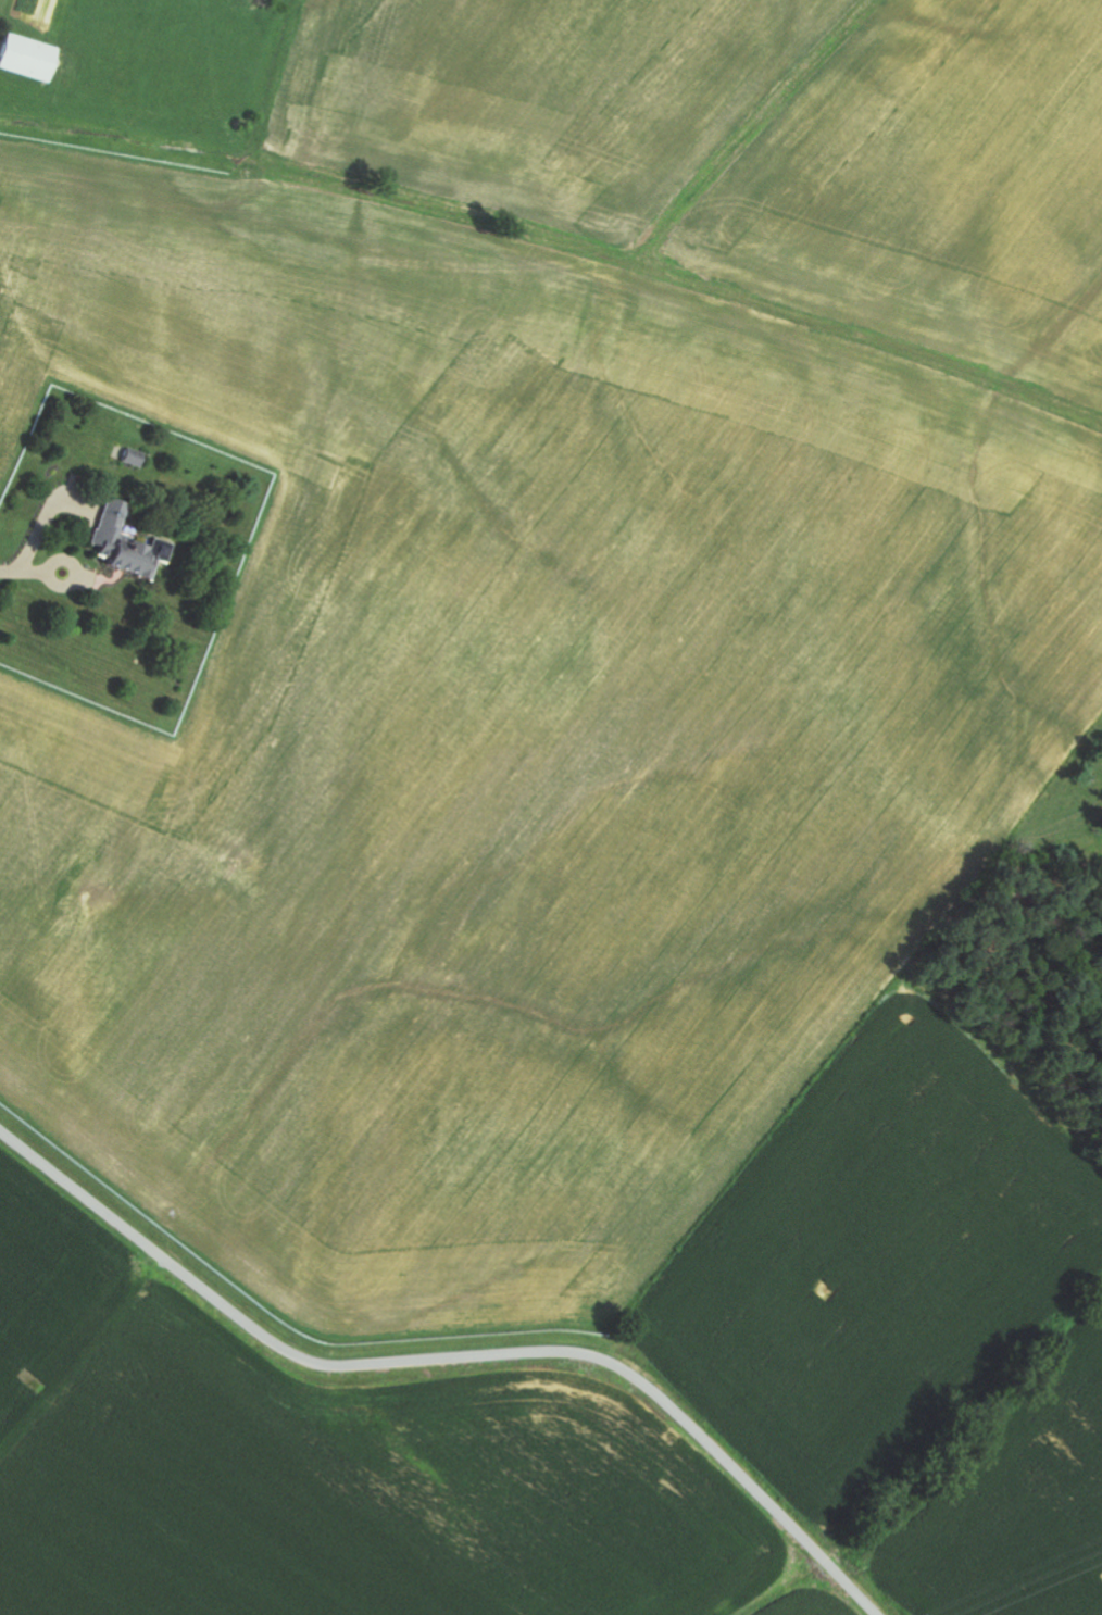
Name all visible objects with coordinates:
building: (26, 59)
road: (38, 527)
building: (114, 539)
road: (451, 1359)

